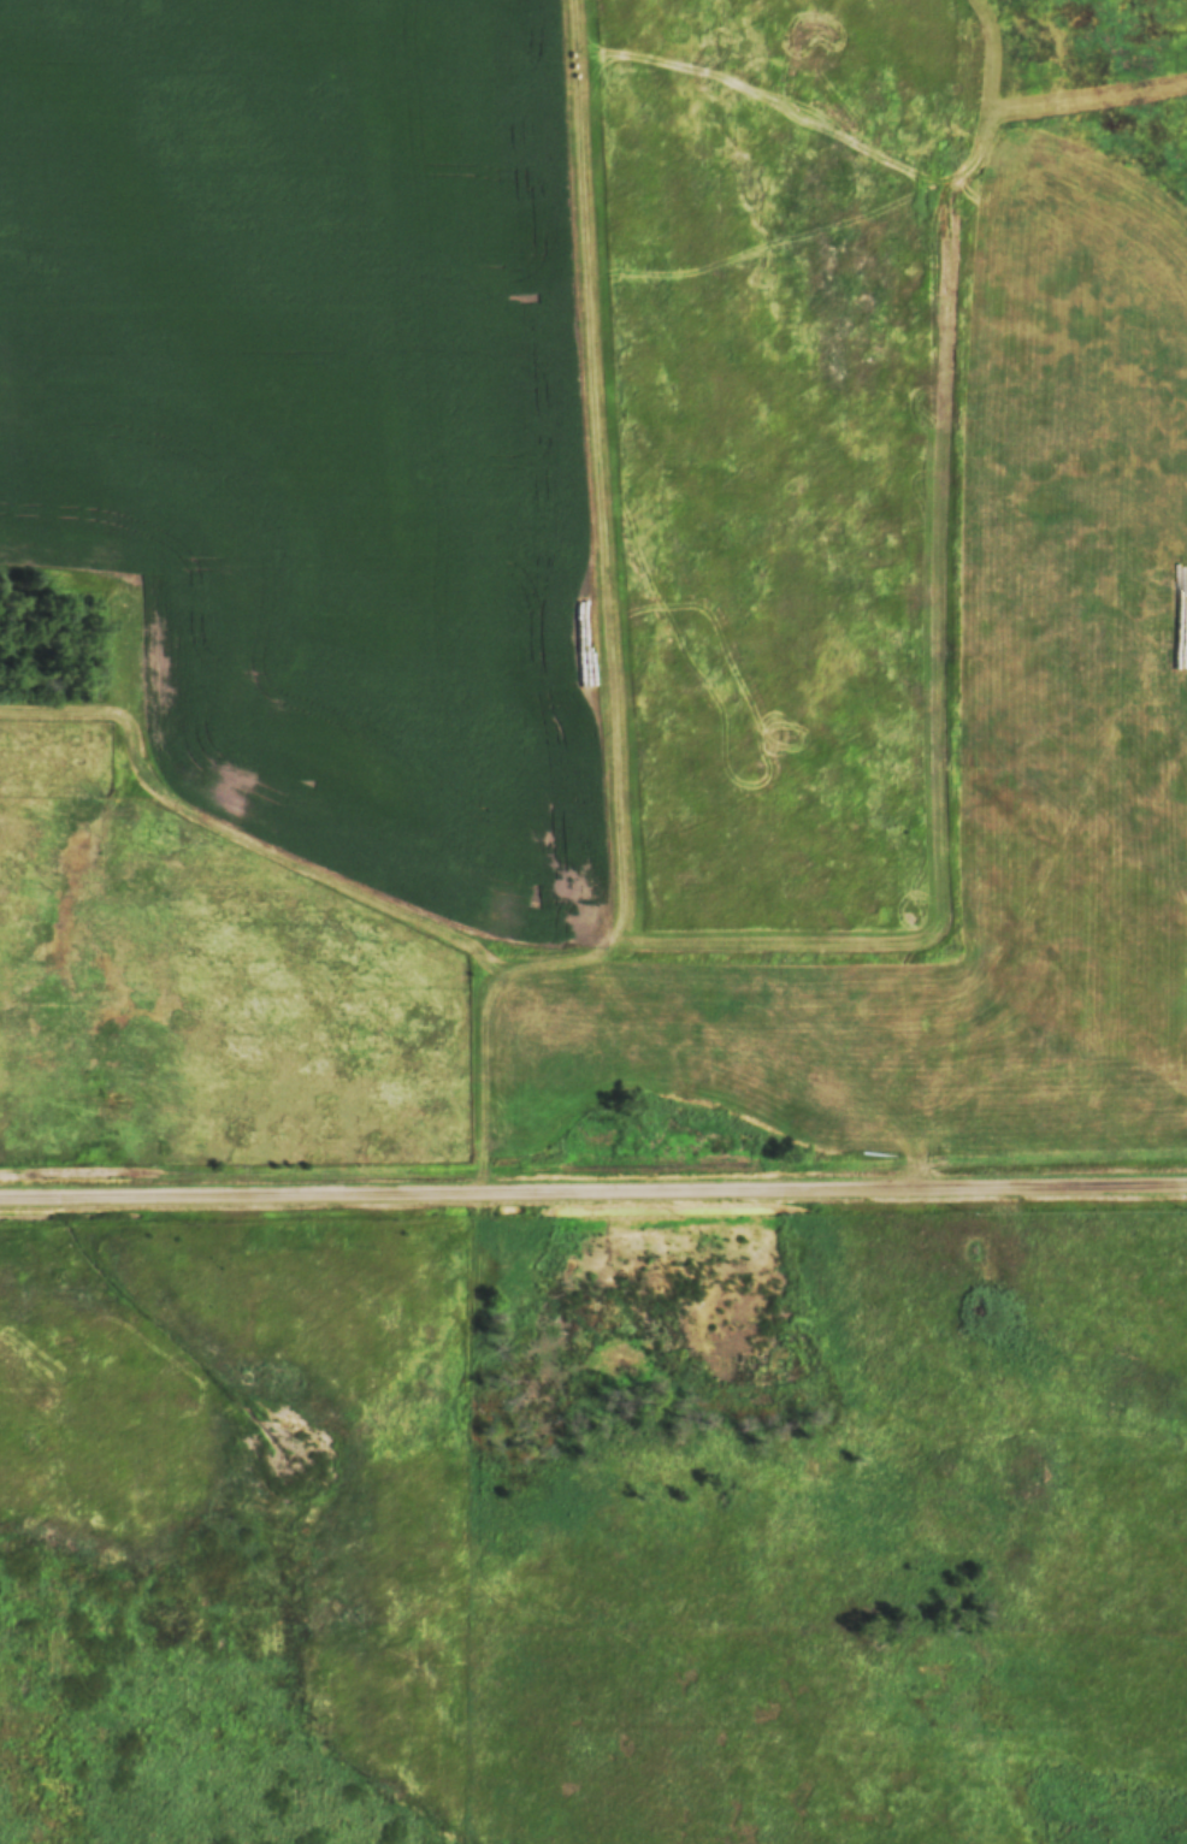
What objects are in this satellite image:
road: (593, 1183)

